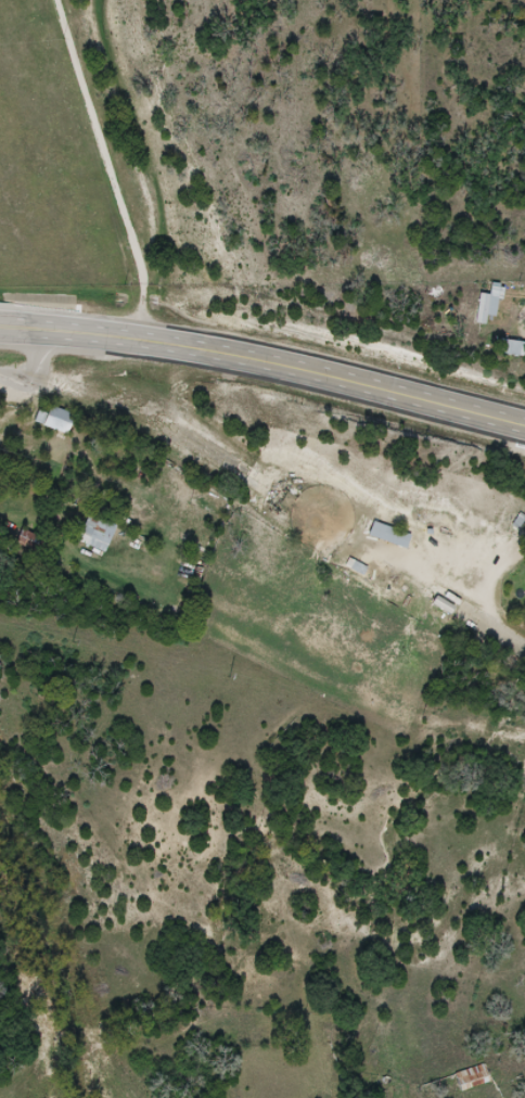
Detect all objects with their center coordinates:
road: (107, 166)
building: (489, 304)
road: (265, 360)
building: (57, 421)
building: (1, 474)
building: (392, 537)
building: (473, 1078)

